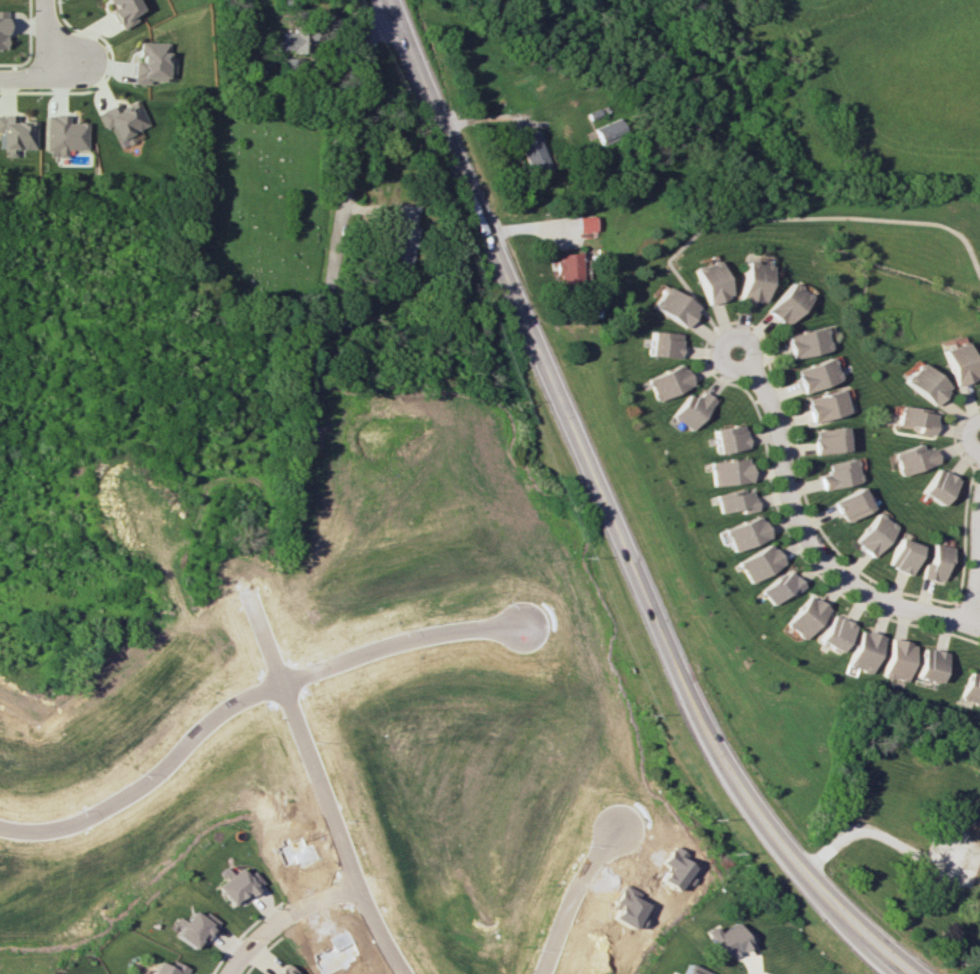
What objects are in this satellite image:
building: (2, 29)
road: (43, 31)
building: (296, 41)
road: (66, 62)
building: (151, 62)
road: (28, 77)
building: (124, 121)
building: (607, 130)
building: (15, 134)
building: (63, 134)
building: (532, 153)
road: (352, 155)
park: (255, 204)
road: (774, 217)
building: (583, 224)
building: (404, 238)
building: (567, 267)
building: (710, 281)
building: (751, 281)
road: (517, 301)
building: (785, 303)
building: (674, 306)
building: (804, 342)
building: (665, 344)
building: (954, 363)
building: (814, 374)
building: (670, 382)
building: (921, 383)
building: (824, 405)
building: (693, 409)
building: (915, 419)
building: (729, 438)
building: (827, 440)
building: (912, 458)
building: (730, 471)
building: (837, 474)
building: (937, 486)
building: (736, 501)
building: (849, 504)
road: (806, 529)
building: (745, 533)
building: (871, 534)
building: (900, 555)
building: (759, 562)
road: (977, 562)
building: (934, 563)
building: (780, 586)
building: (804, 616)
road: (972, 626)
building: (833, 632)
building: (862, 651)
building: (895, 659)
building: (927, 664)
building: (970, 688)
road: (242, 697)
road: (316, 788)
road: (753, 810)
road: (876, 834)
building: (978, 879)
building: (235, 885)
road: (568, 896)
road: (281, 917)
building: (194, 928)
building: (727, 939)
building: (167, 968)
building: (692, 970)
building: (283, 971)

